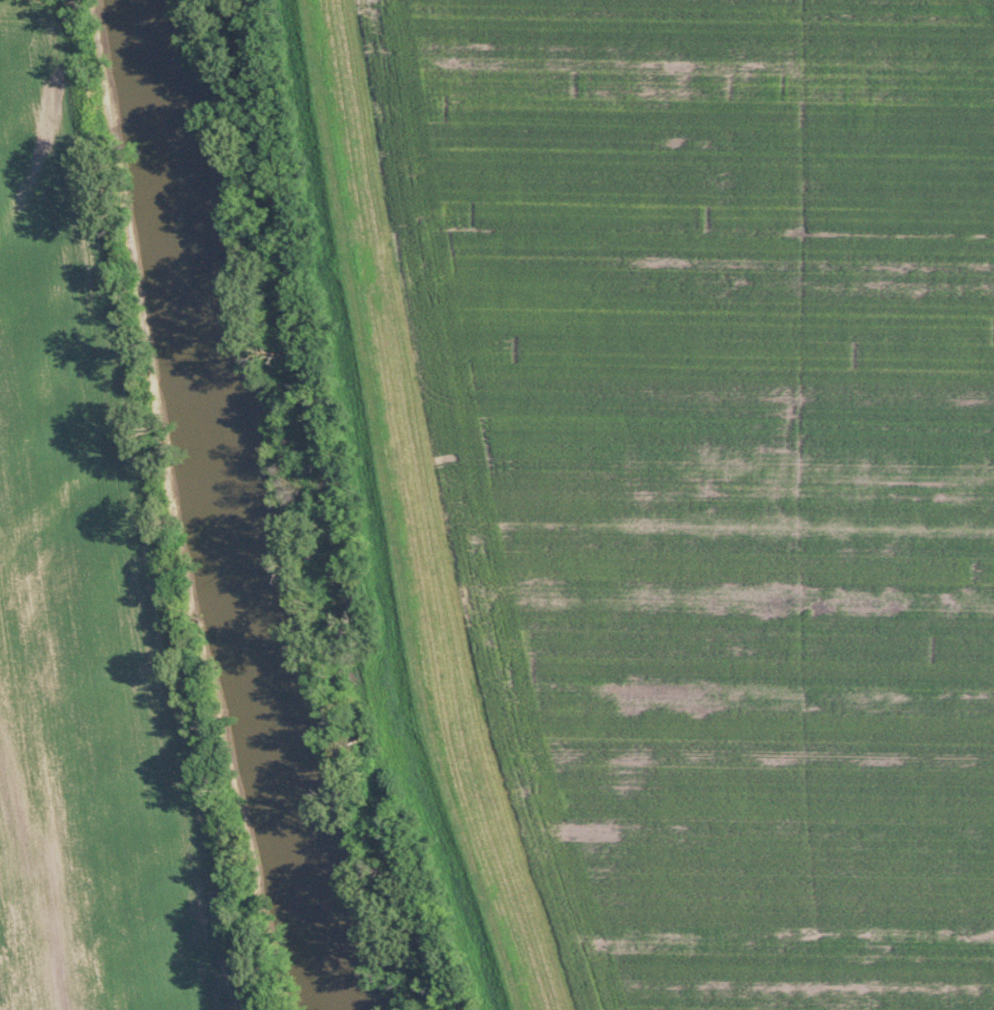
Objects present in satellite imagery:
crop: (727, 470)
river: (225, 509)

